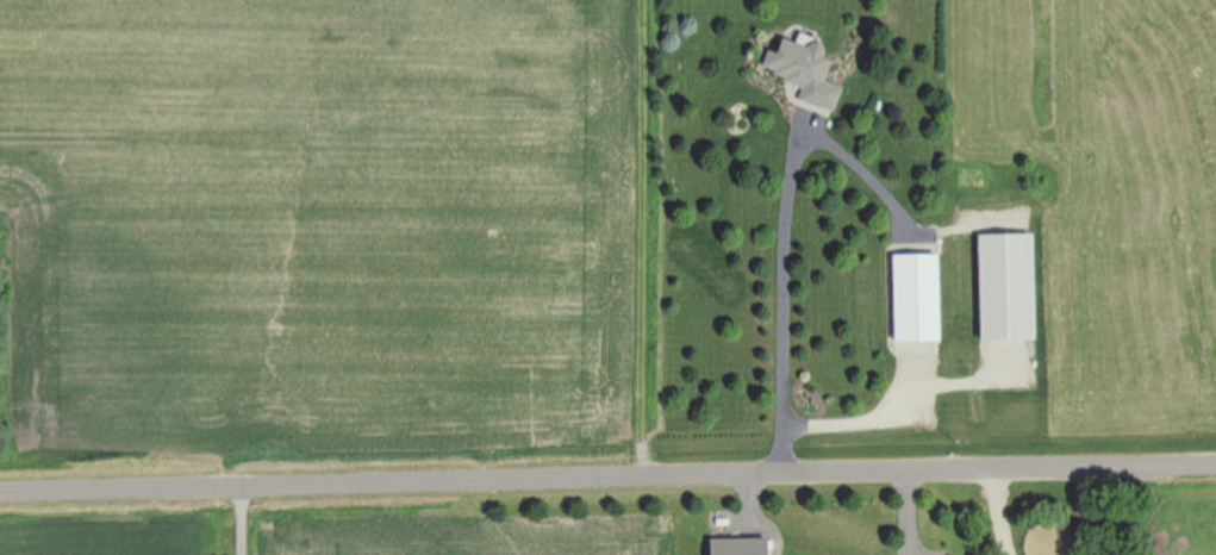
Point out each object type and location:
building: (807, 71)
crop: (322, 236)
road: (786, 283)
building: (1011, 287)
building: (921, 298)
road: (853, 420)
road: (607, 476)
road: (999, 512)
road: (243, 519)

